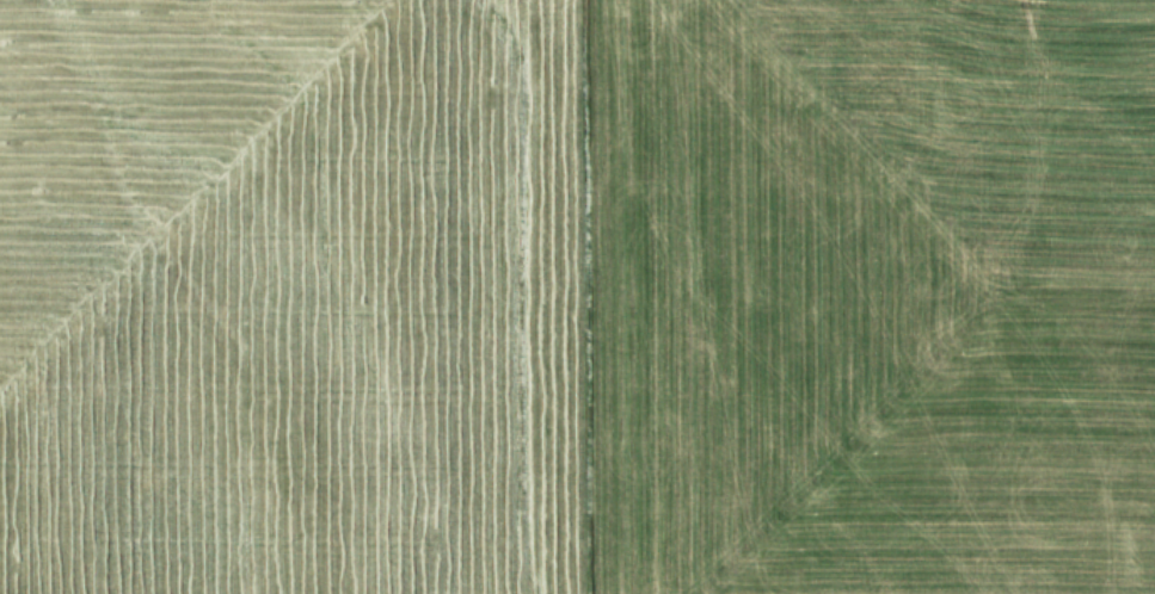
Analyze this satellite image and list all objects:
crop: (577, 297)

